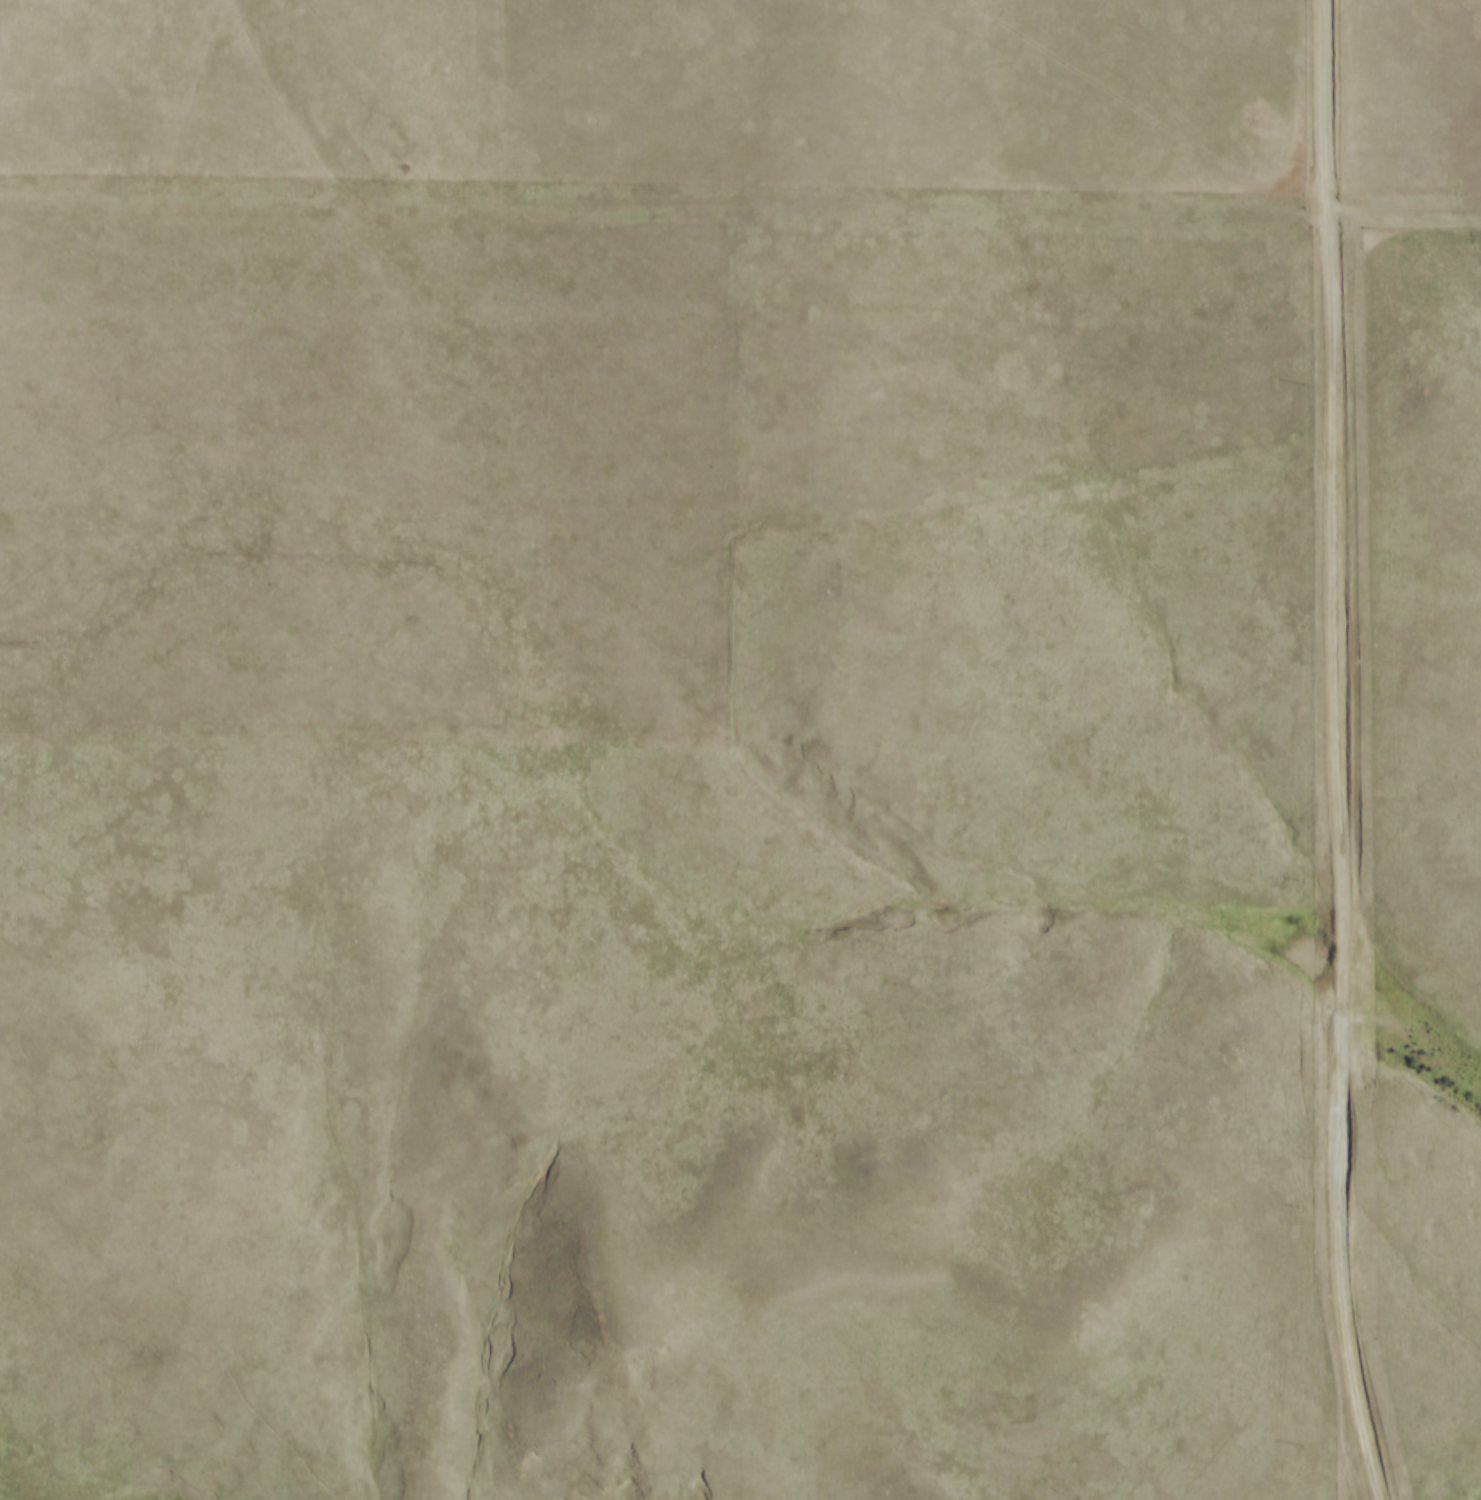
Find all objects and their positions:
road: (1405, 210)
road: (1341, 751)

